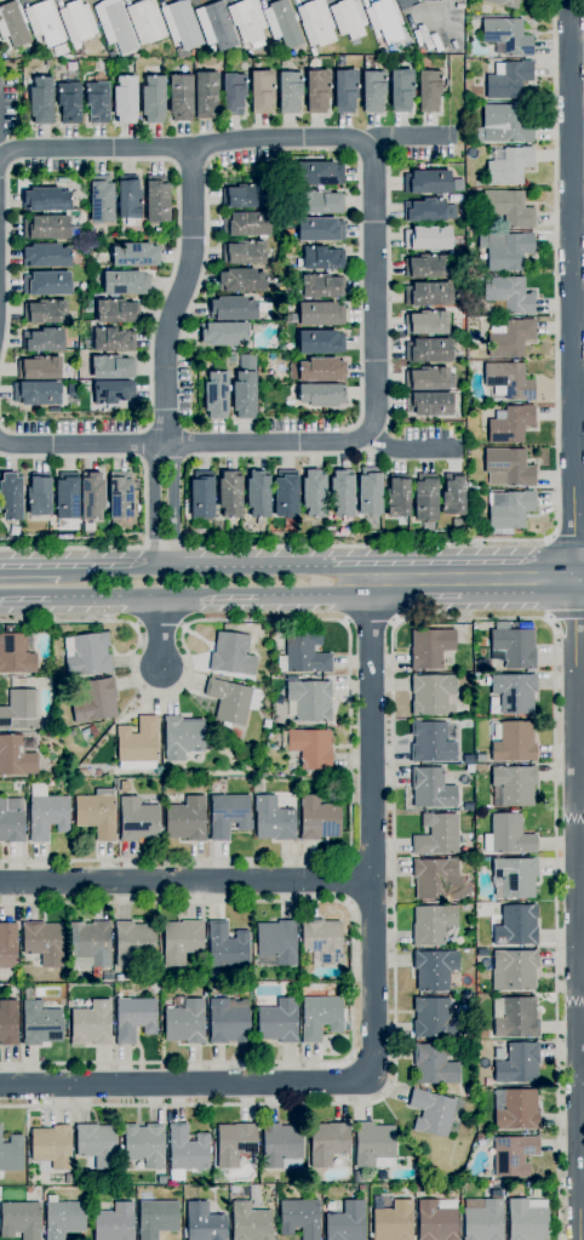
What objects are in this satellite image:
building: (503, 2)
building: (348, 18)
building: (78, 21)
building: (384, 21)
building: (45, 22)
building: (145, 22)
building: (248, 22)
building: (282, 23)
building: (316, 23)
building: (12, 24)
building: (182, 24)
building: (115, 25)
building: (216, 25)
building: (506, 36)
building: (5, 46)
building: (61, 50)
building: (178, 53)
building: (247, 53)
building: (47, 63)
building: (508, 80)
building: (345, 90)
building: (401, 90)
building: (428, 90)
building: (262, 91)
building: (317, 91)
building: (372, 91)
building: (288, 92)
building: (233, 93)
building: (206, 95)
building: (181, 98)
building: (125, 99)
building: (153, 99)
building: (40, 101)
building: (97, 101)
building: (69, 102)
building: (468, 105)
building: (504, 125)
road: (223, 142)
building: (509, 166)
building: (319, 173)
building: (426, 182)
building: (244, 195)
building: (128, 196)
building: (45, 199)
building: (158, 199)
building: (101, 200)
building: (320, 201)
building: (508, 207)
building: (424, 211)
building: (246, 224)
building: (46, 227)
building: (319, 230)
building: (426, 238)
building: (244, 252)
building: (510, 252)
building: (133, 255)
building: (46, 256)
road: (205, 256)
building: (322, 258)
road: (7, 262)
building: (95, 262)
road: (173, 265)
building: (429, 267)
building: (241, 280)
road: (573, 281)
building: (125, 282)
building: (46, 284)
building: (320, 285)
road: (359, 285)
road: (373, 288)
road: (389, 288)
building: (428, 293)
building: (509, 295)
road: (178, 297)
building: (235, 309)
building: (114, 310)
building: (45, 312)
building: (316, 314)
building: (426, 322)
building: (224, 333)
building: (510, 337)
building: (111, 339)
building: (44, 341)
building: (320, 342)
building: (429, 350)
building: (457, 354)
building: (39, 367)
building: (109, 367)
building: (317, 370)
building: (429, 378)
building: (508, 381)
building: (216, 390)
building: (113, 392)
building: (36, 393)
building: (244, 394)
building: (320, 395)
building: (429, 404)
building: (510, 423)
road: (5, 429)
road: (230, 444)
road: (286, 455)
building: (508, 468)
road: (557, 473)
building: (286, 493)
building: (314, 493)
building: (340, 493)
building: (120, 495)
building: (201, 495)
building: (229, 495)
building: (453, 495)
building: (11, 496)
building: (67, 496)
building: (91, 496)
building: (258, 496)
building: (370, 496)
building: (397, 496)
building: (39, 497)
building: (425, 501)
road: (154, 504)
road: (173, 504)
road: (144, 505)
building: (509, 512)
building: (458, 524)
building: (87, 528)
road: (569, 532)
road: (579, 562)
road: (453, 565)
road: (253, 566)
road: (116, 567)
road: (29, 568)
road: (517, 593)
road: (579, 593)
road: (313, 594)
road: (414, 594)
road: (210, 595)
road: (105, 596)
road: (24, 598)
road: (370, 623)
road: (567, 623)
road: (160, 633)
building: (513, 646)
building: (430, 648)
building: (87, 653)
building: (303, 653)
building: (16, 655)
building: (231, 655)
building: (481, 663)
road: (391, 667)
road: (350, 673)
building: (514, 692)
building: (431, 693)
building: (310, 699)
building: (96, 701)
building: (230, 701)
building: (19, 710)
building: (267, 724)
building: (182, 737)
building: (513, 742)
building: (431, 743)
building: (137, 744)
building: (310, 748)
building: (17, 755)
building: (480, 758)
building: (468, 759)
building: (480, 767)
building: (514, 785)
building: (122, 787)
building: (431, 788)
building: (46, 813)
building: (229, 815)
building: (96, 816)
building: (319, 818)
building: (138, 819)
building: (185, 819)
building: (273, 819)
building: (11, 821)
building: (436, 835)
building: (508, 835)
building: (514, 876)
building: (436, 879)
road: (345, 880)
road: (185, 884)
road: (577, 901)
building: (433, 924)
building: (516, 925)
building: (181, 941)
building: (322, 941)
building: (42, 942)
building: (277, 942)
building: (134, 944)
building: (7, 945)
building: (90, 945)
building: (227, 945)
building: (481, 953)
building: (434, 970)
building: (514, 970)
building: (108, 977)
building: (119, 977)
road: (351, 982)
road: (373, 1011)
building: (320, 1017)
building: (514, 1017)
building: (133, 1018)
building: (434, 1019)
building: (228, 1021)
building: (8, 1022)
building: (185, 1022)
building: (277, 1022)
building: (40, 1023)
building: (91, 1024)
building: (482, 1034)
building: (434, 1064)
building: (519, 1064)
building: (487, 1081)
road: (580, 1085)
building: (469, 1092)
building: (515, 1109)
building: (431, 1113)
building: (234, 1143)
building: (327, 1143)
building: (97, 1144)
building: (144, 1144)
building: (281, 1145)
building: (374, 1145)
building: (52, 1147)
building: (187, 1150)
building: (11, 1154)
building: (514, 1155)
building: (356, 1177)
building: (527, 1183)
building: (234, 1189)
building: (330, 1206)
building: (64, 1218)
building: (156, 1218)
building: (299, 1218)
building: (21, 1219)
building: (436, 1219)
building: (527, 1219)
building: (393, 1221)
building: (483, 1221)
building: (250, 1222)
building: (347, 1222)
building: (114, 1223)
building: (204, 1223)

